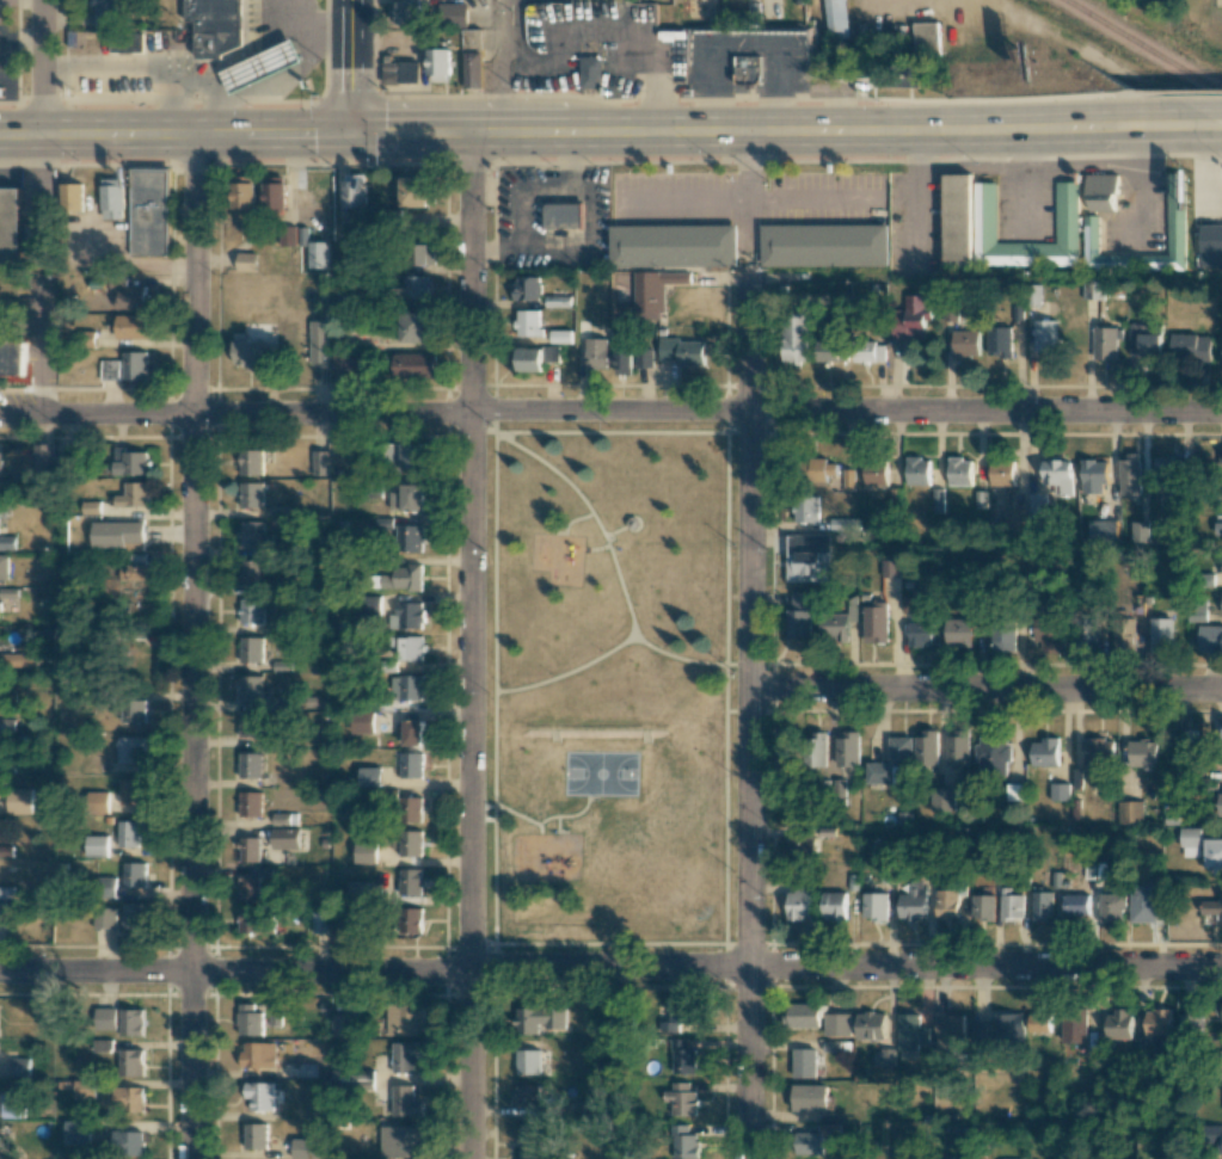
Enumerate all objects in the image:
building: (1159, 2)
road: (909, 6)
building: (105, 11)
building: (406, 12)
building: (456, 16)
building: (834, 18)
building: (217, 26)
building: (471, 38)
building: (923, 38)
building: (128, 41)
road: (7, 48)
railway: (1143, 48)
road: (644, 54)
building: (440, 64)
building: (263, 66)
road: (351, 66)
road: (502, 66)
road: (42, 67)
building: (473, 69)
building: (748, 69)
building: (401, 72)
building: (591, 72)
building: (898, 75)
road: (1189, 112)
road: (1120, 121)
traffic signals: (351, 132)
road: (544, 132)
road: (1144, 138)
road: (1212, 143)
road: (571, 158)
road: (514, 159)
road: (1211, 178)
road: (493, 185)
building: (356, 190)
building: (416, 191)
building: (1101, 191)
building: (244, 192)
building: (275, 192)
building: (72, 196)
building: (111, 197)
road: (750, 197)
road: (919, 198)
road: (749, 199)
building: (149, 211)
building: (1067, 211)
building: (565, 215)
building: (958, 220)
building: (18, 232)
building: (1091, 234)
building: (294, 235)
road: (541, 239)
building: (825, 243)
building: (674, 245)
building: (1210, 245)
road: (495, 249)
building: (425, 253)
building: (319, 254)
building: (246, 261)
building: (413, 288)
building: (527, 288)
building: (656, 289)
building: (1097, 290)
building: (128, 294)
building: (1036, 294)
building: (343, 297)
building: (558, 301)
building: (916, 314)
building: (529, 322)
building: (133, 326)
building: (415, 327)
building: (1046, 334)
building: (561, 335)
building: (797, 338)
building: (1144, 339)
building: (319, 341)
building: (1000, 341)
building: (1107, 343)
building: (966, 344)
building: (1191, 345)
building: (1221, 346)
road: (38, 349)
building: (866, 349)
building: (248, 351)
building: (683, 351)
building: (828, 351)
building: (596, 352)
building: (12, 357)
building: (535, 358)
building: (633, 358)
building: (135, 364)
building: (350, 364)
building: (416, 365)
building: (110, 369)
road: (610, 411)
building: (407, 455)
building: (0, 456)
building: (1220, 457)
building: (43, 458)
building: (130, 461)
building: (252, 462)
building: (320, 462)
building: (1167, 466)
building: (821, 469)
building: (917, 470)
building: (959, 471)
building: (1001, 473)
building: (876, 474)
building: (1057, 475)
building: (1093, 475)
building: (1129, 476)
building: (134, 494)
building: (251, 494)
building: (410, 497)
building: (1034, 504)
building: (91, 507)
building: (806, 507)
road: (590, 516)
building: (1013, 520)
building: (1217, 528)
building: (1100, 532)
building: (117, 534)
building: (253, 535)
building: (410, 537)
building: (7, 542)
building: (809, 557)
building: (4, 566)
building: (891, 567)
building: (137, 572)
building: (251, 572)
building: (404, 578)
building: (251, 610)
building: (1196, 612)
building: (407, 615)
building: (799, 615)
building: (878, 622)
building: (840, 623)
building: (922, 630)
building: (959, 633)
building: (1086, 634)
building: (1124, 634)
building: (1161, 634)
building: (1049, 635)
building: (1003, 637)
building: (1210, 637)
road: (471, 645)
road: (194, 646)
building: (409, 647)
building: (251, 648)
building: (16, 659)
road: (985, 685)
building: (407, 686)
building: (251, 688)
park: (610, 690)
building: (133, 710)
road: (749, 711)
building: (362, 722)
building: (6, 725)
building: (250, 725)
building: (410, 732)
building: (958, 747)
building: (818, 748)
building: (927, 748)
building: (1185, 748)
building: (130, 750)
building: (847, 750)
building: (1044, 752)
building: (1143, 752)
building: (1099, 753)
building: (993, 754)
building: (891, 763)
building: (411, 764)
building: (250, 765)
park: (600, 775)
building: (369, 776)
building: (130, 790)
building: (1015, 791)
building: (1060, 791)
building: (942, 799)
building: (18, 800)
building: (250, 803)
building: (410, 808)
building: (1130, 812)
building: (281, 818)
building: (129, 832)
building: (285, 838)
building: (1192, 841)
building: (411, 843)
building: (97, 845)
building: (800, 846)
building: (248, 849)
building: (366, 851)
building: (1215, 853)
building: (134, 874)
building: (411, 881)
building: (106, 887)
building: (248, 887)
building: (358, 890)
building: (6, 892)
building: (913, 901)
building: (1143, 902)
building: (800, 904)
building: (945, 904)
building: (835, 905)
building: (874, 905)
building: (1075, 905)
building: (983, 906)
building: (1011, 906)
building: (1043, 906)
building: (1112, 907)
building: (2, 908)
building: (1212, 913)
building: (134, 914)
building: (104, 917)
building: (253, 919)
building: (411, 919)
building: (319, 921)
building: (345, 921)
road: (610, 968)
building: (684, 1009)
building: (804, 1015)
building: (43, 1017)
building: (276, 1017)
building: (404, 1018)
building: (539, 1018)
building: (250, 1019)
building: (131, 1022)
building: (1024, 1023)
building: (1160, 1023)
building: (1190, 1023)
building: (839, 1024)
building: (952, 1024)
building: (1120, 1024)
building: (343, 1025)
building: (871, 1025)
building: (1075, 1025)
building: (908, 1030)
building: (983, 1031)
building: (104, 1044)
building: (259, 1054)
building: (406, 1056)
building: (683, 1056)
building: (885, 1056)
building: (528, 1061)
building: (131, 1062)
building: (804, 1062)
building: (19, 1066)
building: (85, 1089)
building: (259, 1095)
building: (527, 1095)
building: (810, 1097)
building: (124, 1098)
building: (682, 1098)
building: (405, 1102)
building: (11, 1105)
building: (76, 1132)
building: (256, 1135)
building: (1217, 1139)
building: (401, 1141)
building: (528, 1141)
building: (127, 1142)
building: (684, 1142)
building: (807, 1142)
building: (309, 1148)

